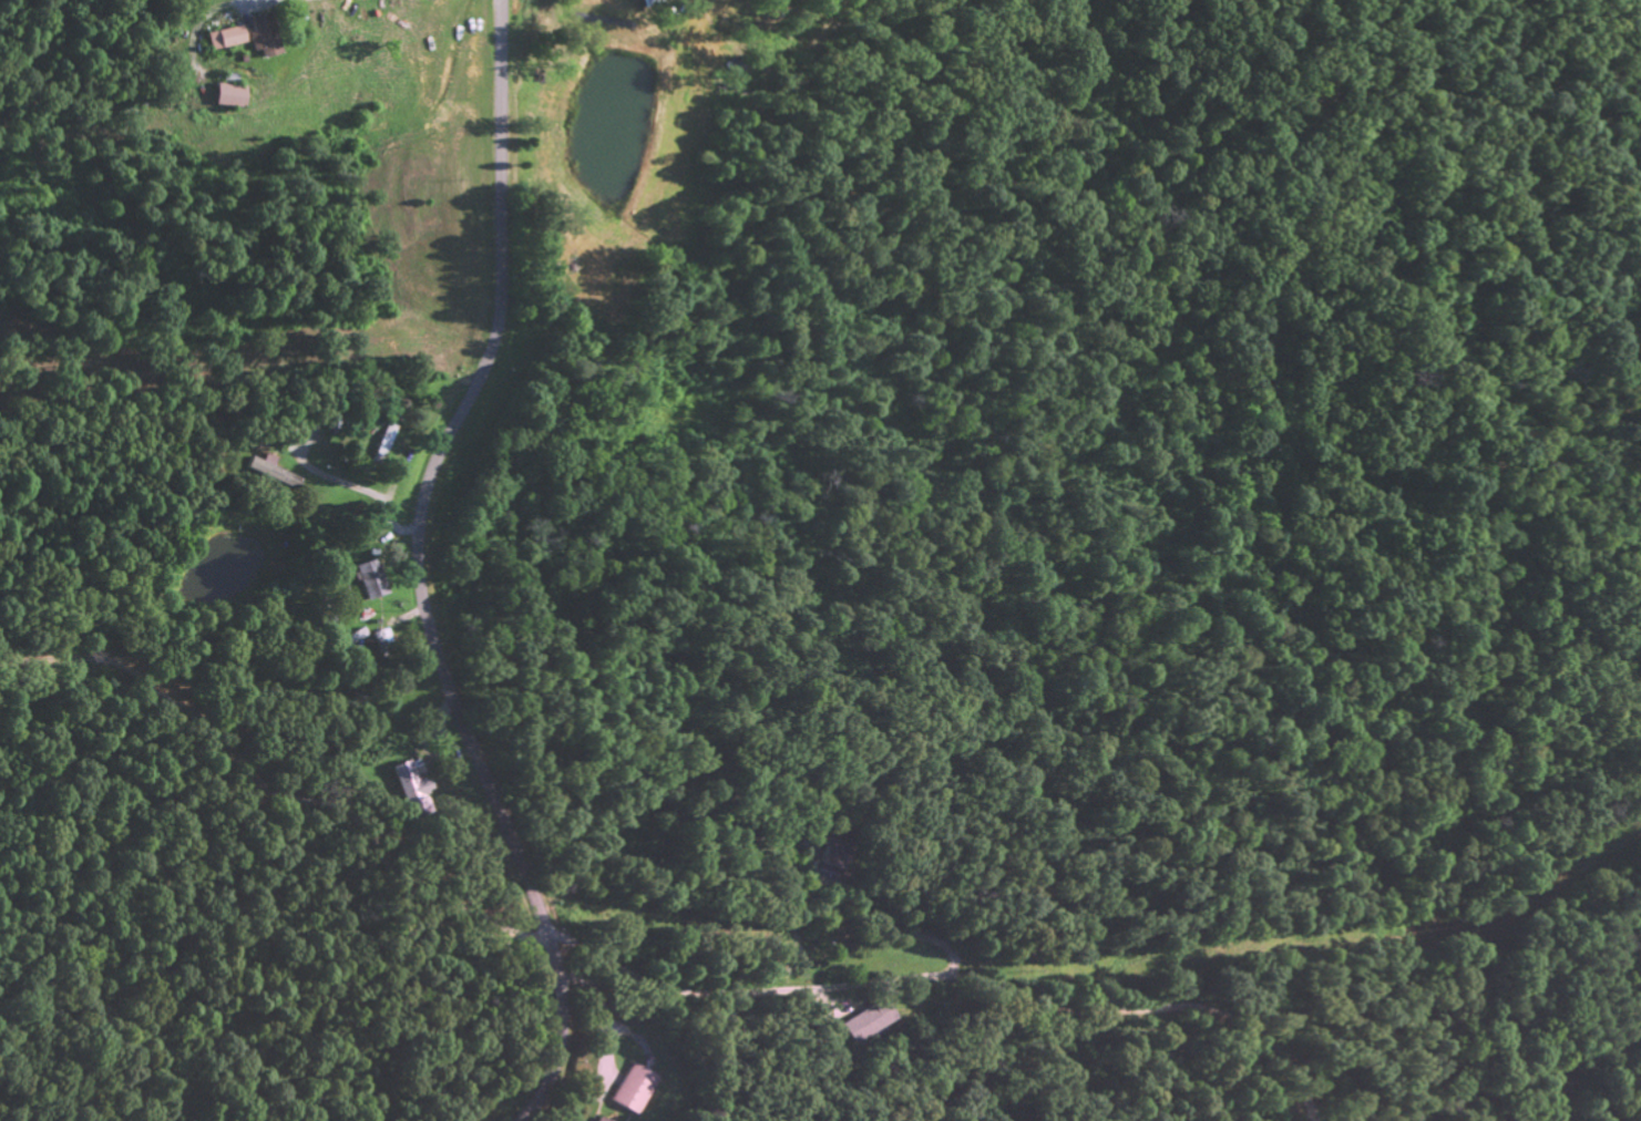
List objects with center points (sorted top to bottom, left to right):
building: (264, 33)
building: (227, 35)
building: (229, 94)
road: (414, 569)
building: (372, 578)
building: (416, 788)
building: (869, 1021)
building: (634, 1088)
building: (603, 1119)

